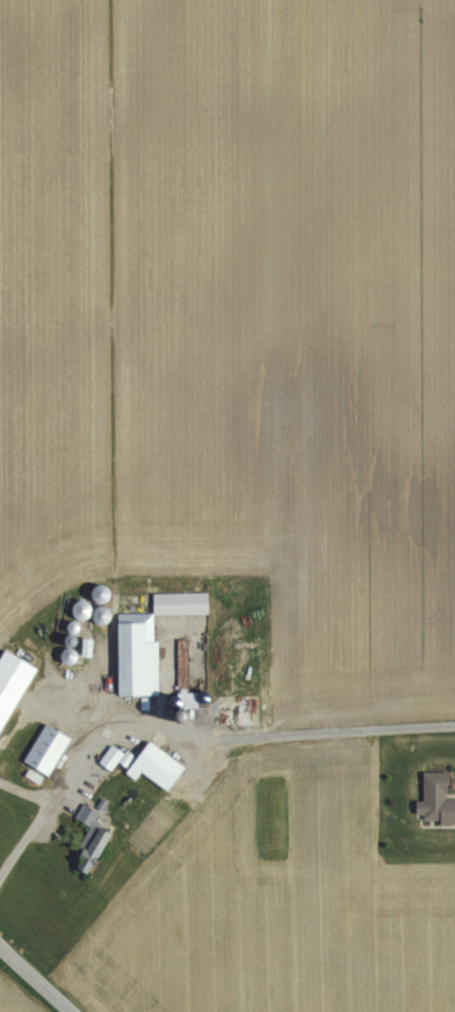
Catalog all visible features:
building: (180, 604)
building: (136, 654)
building: (182, 661)
building: (12, 682)
road: (235, 733)
building: (46, 749)
building: (114, 758)
building: (155, 767)
building: (436, 799)
road: (40, 819)
building: (90, 838)
road: (37, 976)

